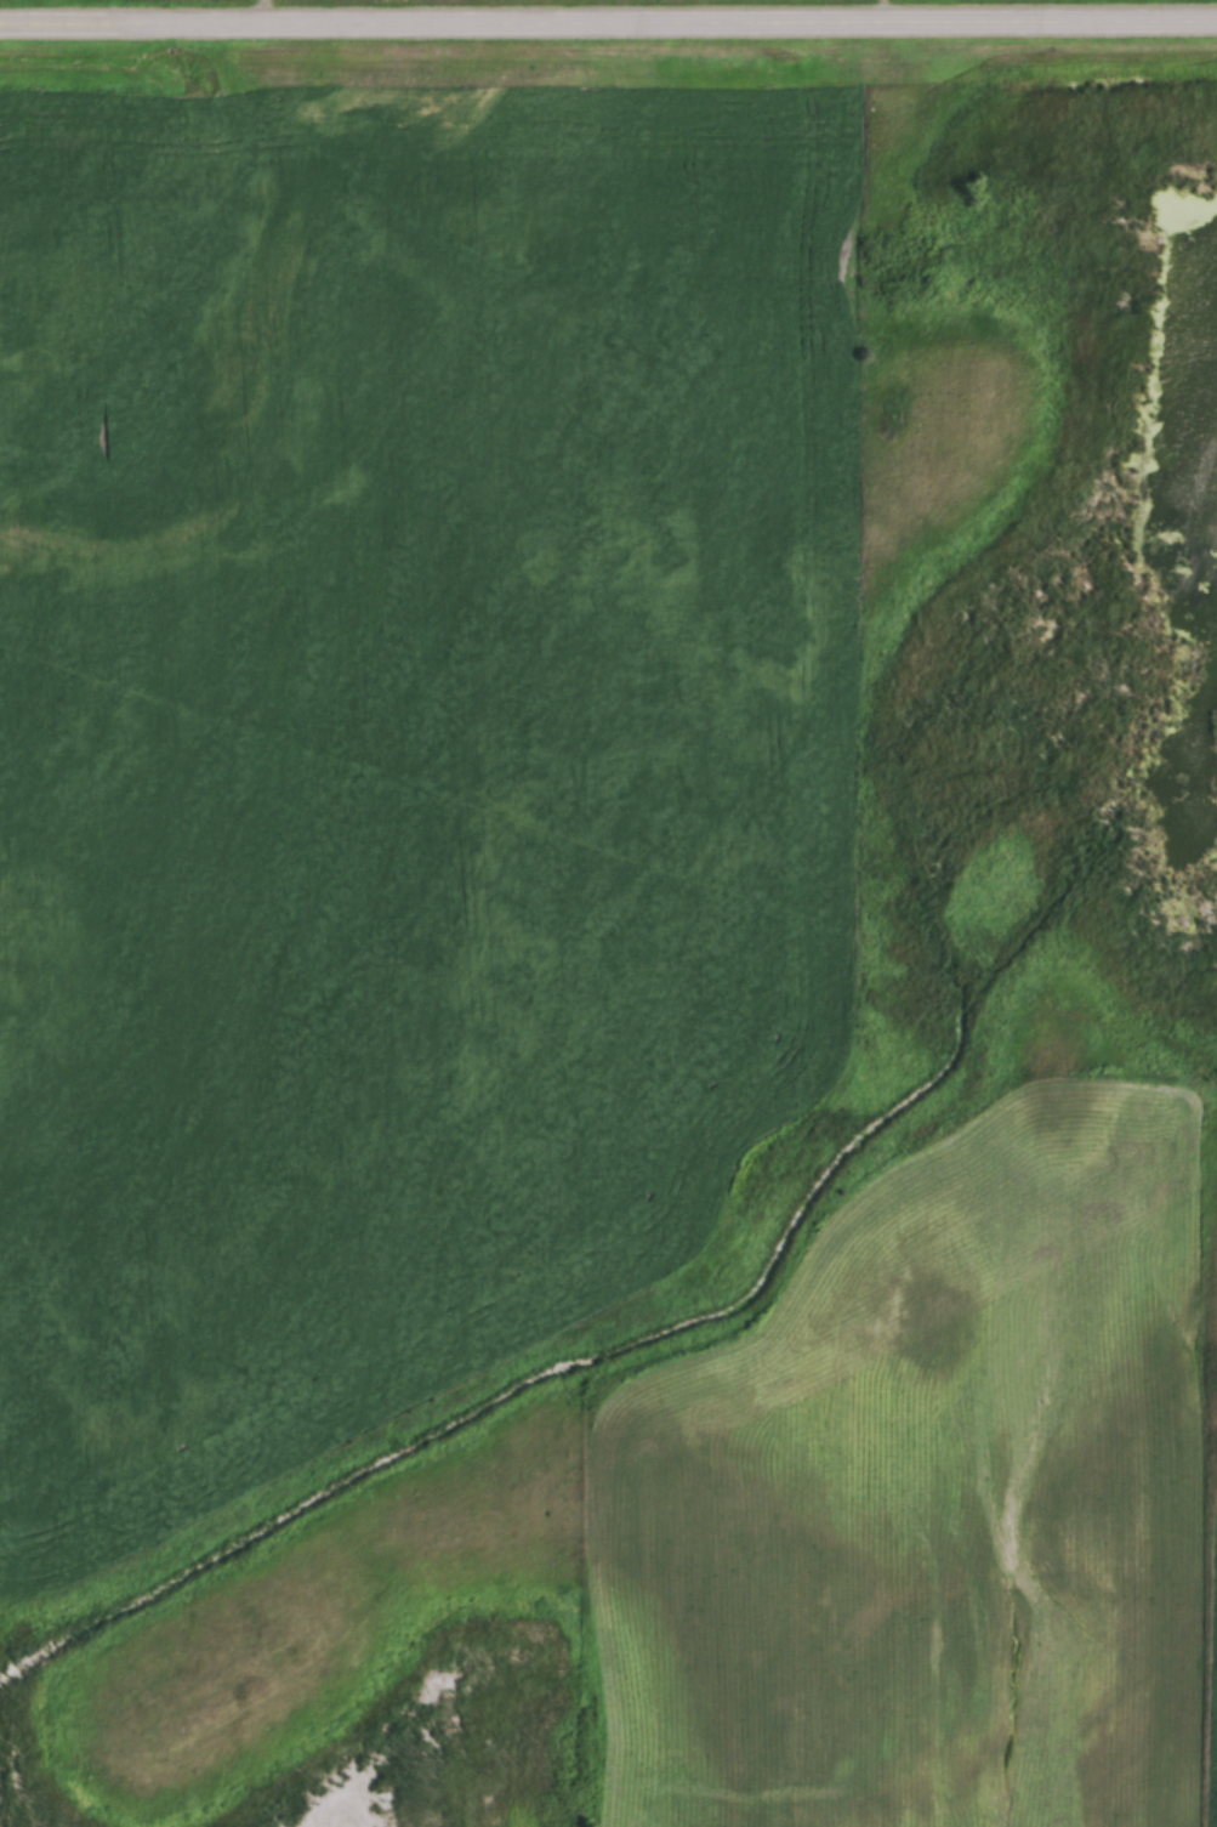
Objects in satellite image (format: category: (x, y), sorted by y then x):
road: (608, 22)
river: (1050, 698)
river: (12, 1695)

